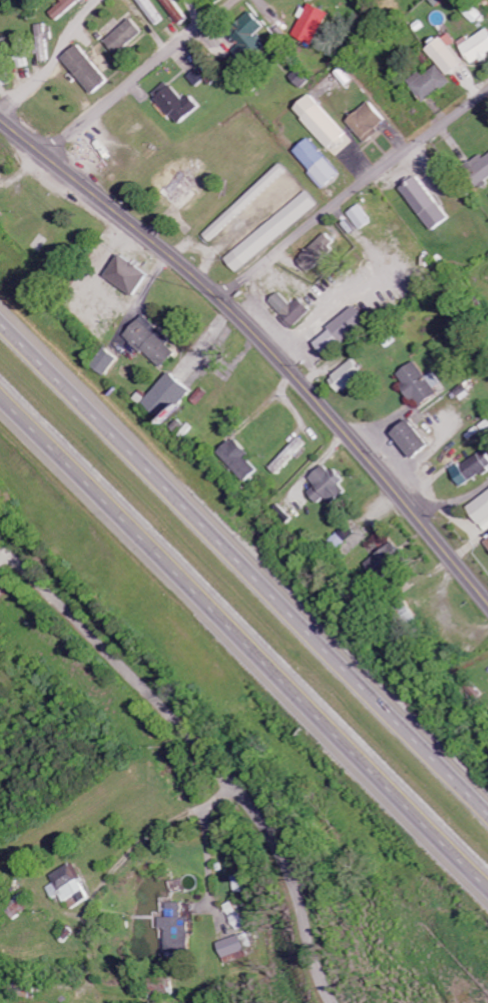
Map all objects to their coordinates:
building: (440, 2)
building: (66, 9)
building: (473, 10)
building: (153, 12)
building: (312, 24)
building: (127, 37)
road: (67, 38)
building: (250, 40)
building: (45, 45)
building: (478, 49)
building: (23, 56)
building: (453, 58)
building: (89, 71)
road: (138, 77)
building: (434, 84)
road: (397, 103)
building: (179, 104)
building: (371, 123)
building: (325, 126)
building: (320, 166)
building: (181, 187)
road: (350, 194)
building: (248, 204)
building: (429, 205)
building: (362, 219)
building: (274, 233)
building: (320, 253)
building: (131, 277)
building: (292, 310)
building: (344, 333)
building: (153, 343)
road: (262, 345)
building: (107, 363)
building: (349, 377)
building: (421, 384)
building: (169, 398)
building: (415, 439)
building: (289, 456)
building: (238, 460)
building: (473, 468)
building: (327, 485)
road: (455, 506)
building: (342, 536)
building: (386, 562)
road: (244, 573)
road: (244, 634)
road: (201, 753)
road: (122, 860)
road: (205, 867)
building: (71, 884)
building: (20, 907)
building: (237, 916)
building: (180, 929)
building: (235, 947)

